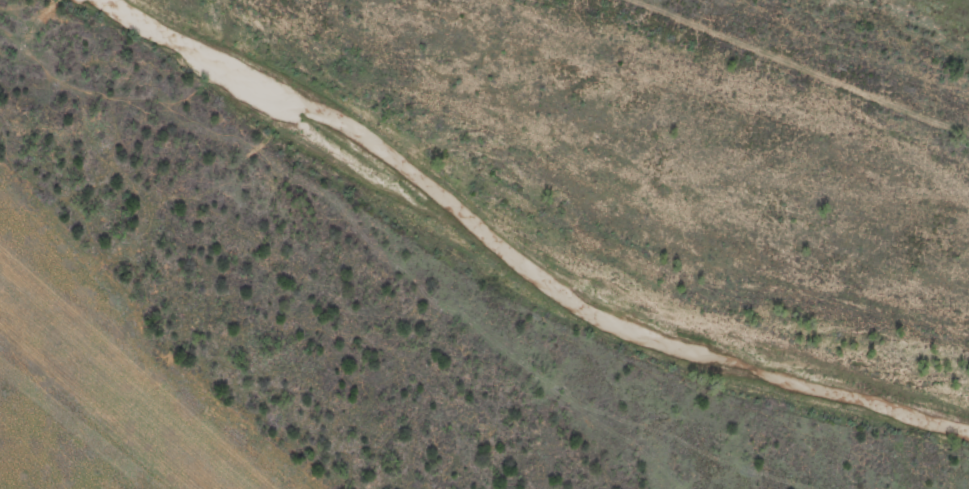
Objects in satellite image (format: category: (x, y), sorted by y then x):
river: (523, 250)

